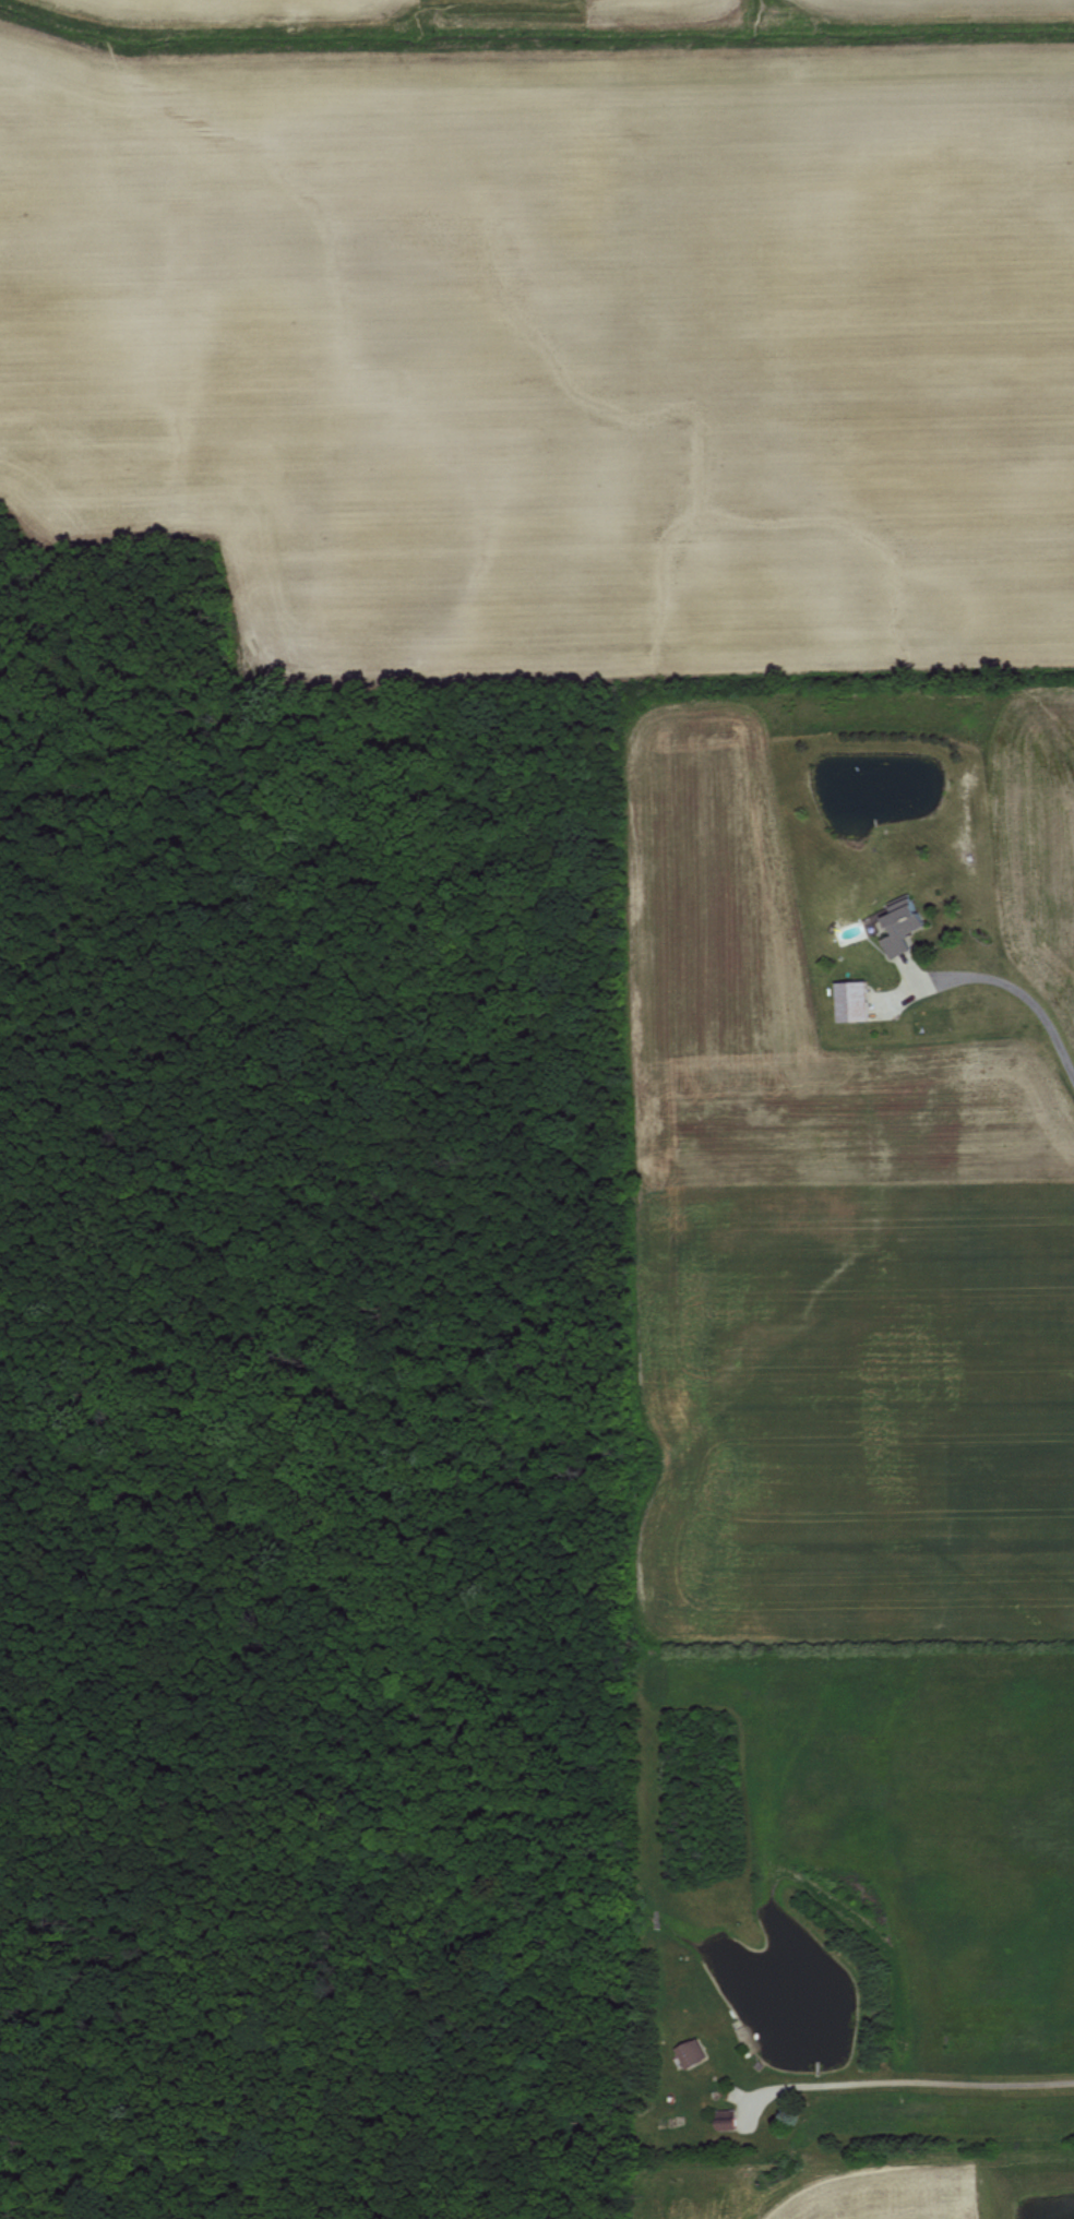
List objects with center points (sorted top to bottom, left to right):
building: (896, 926)
road: (1006, 981)
building: (850, 999)
building: (689, 2051)
road: (902, 2081)
building: (721, 2119)

